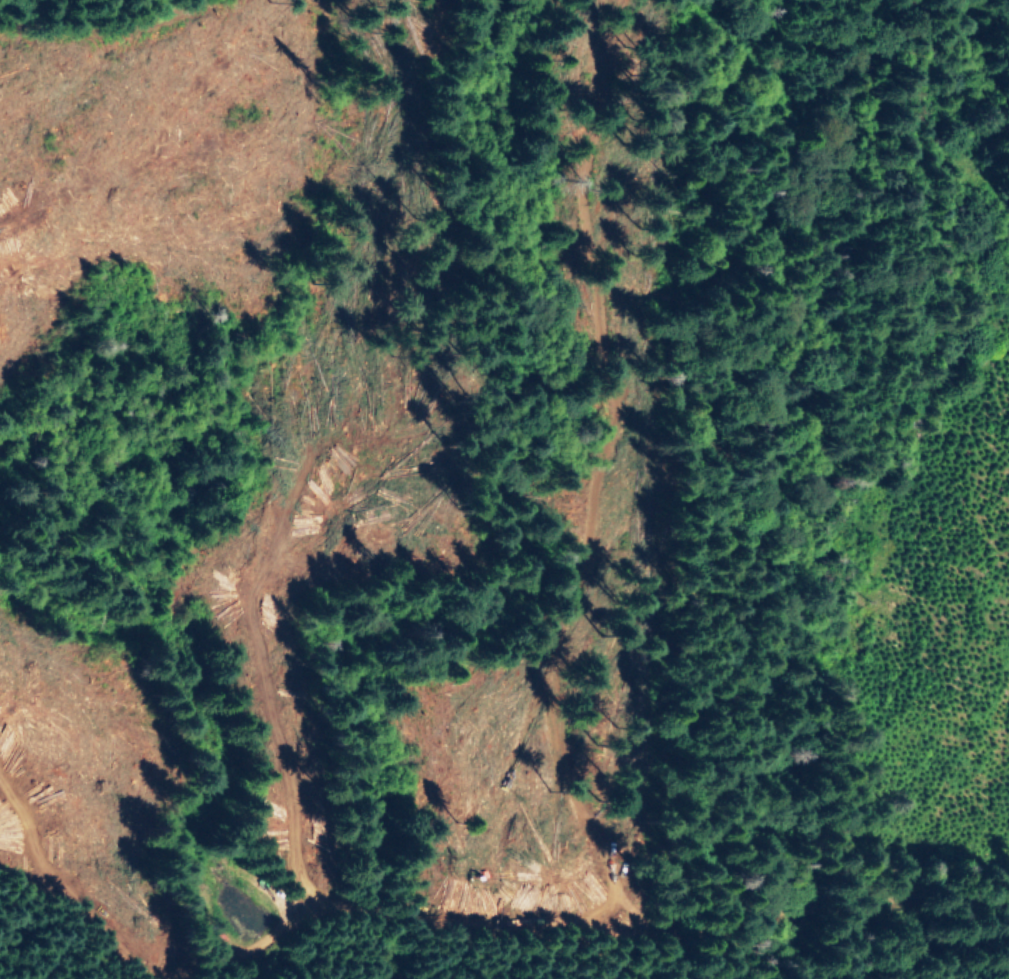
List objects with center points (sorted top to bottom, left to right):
road: (119, 11)
road: (876, 115)
road: (597, 236)
road: (571, 643)
road: (418, 902)

